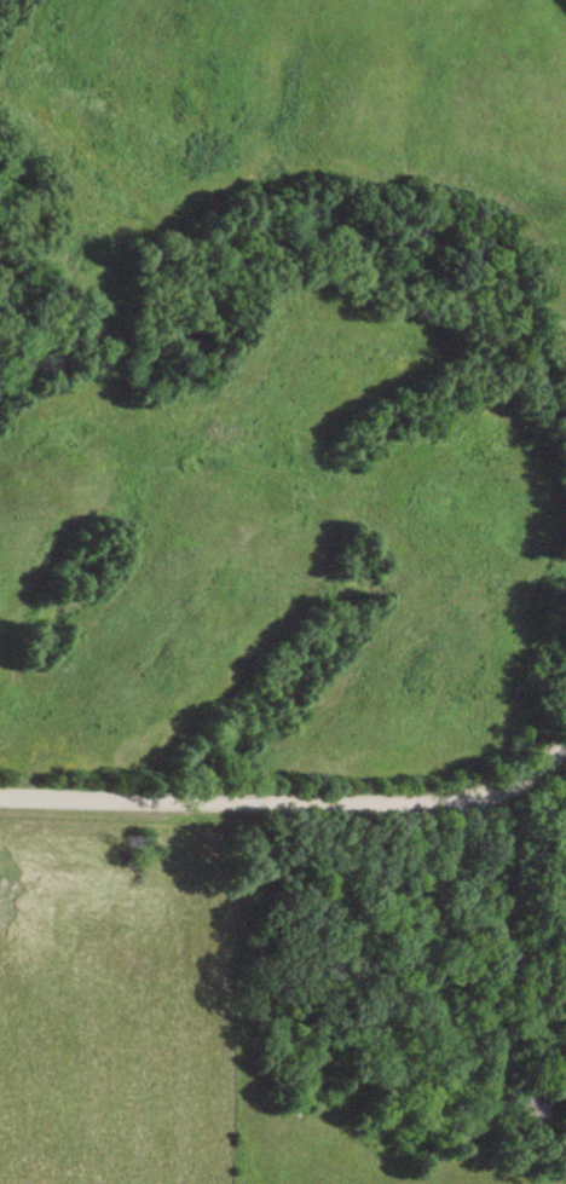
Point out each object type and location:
road: (291, 805)
road: (244, 1020)

